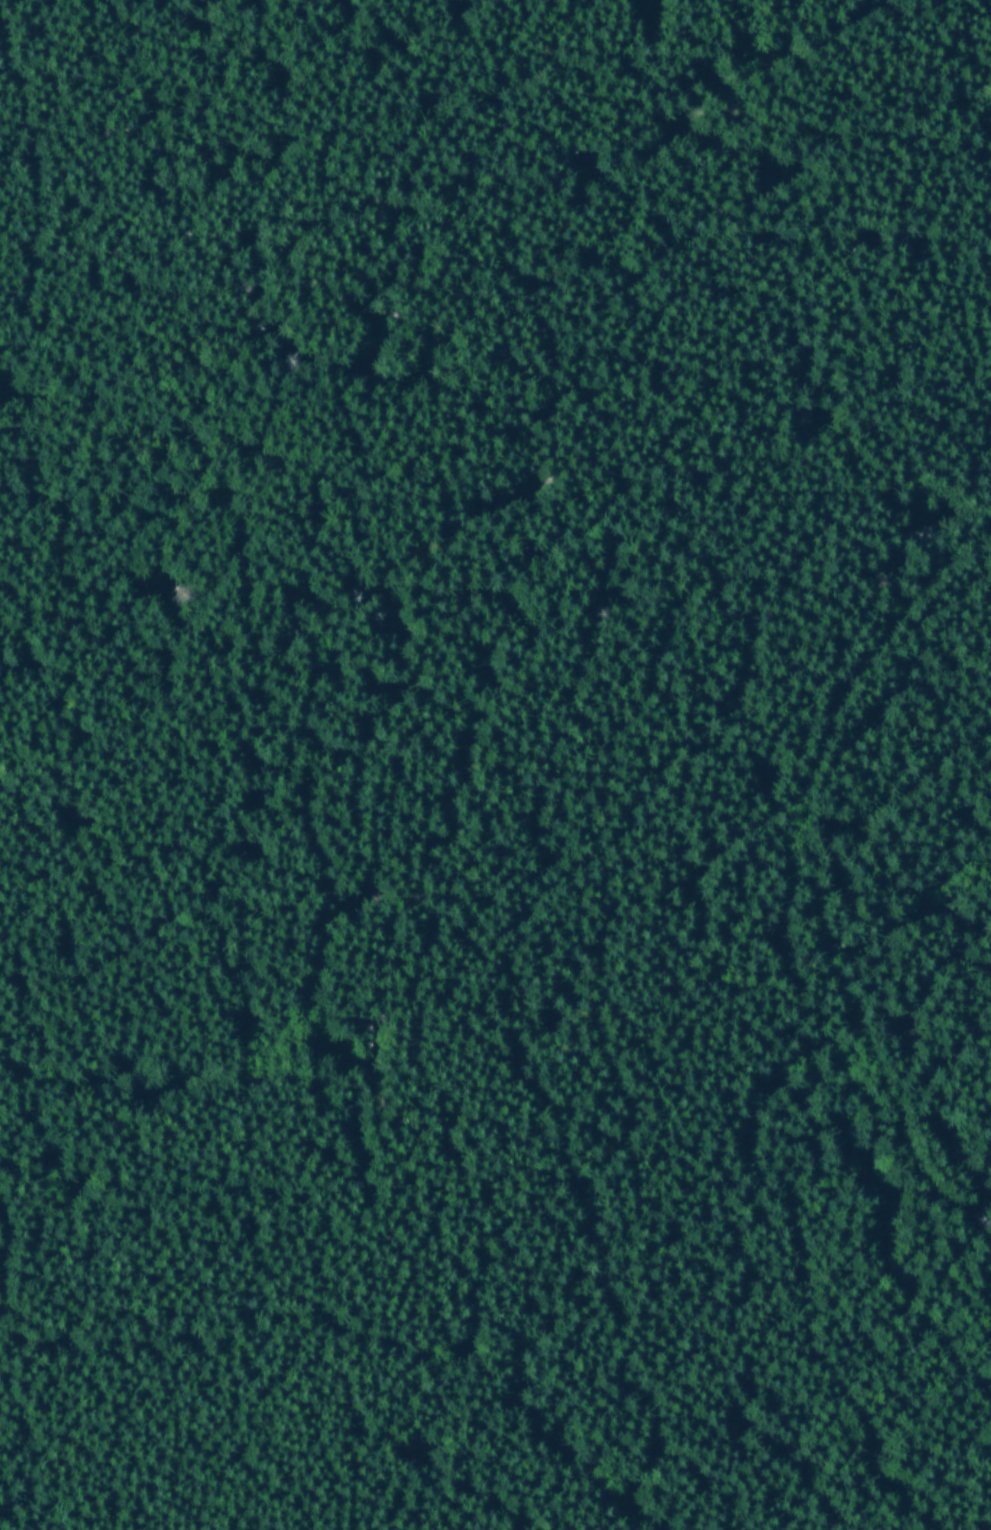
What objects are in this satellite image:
road: (707, 714)

